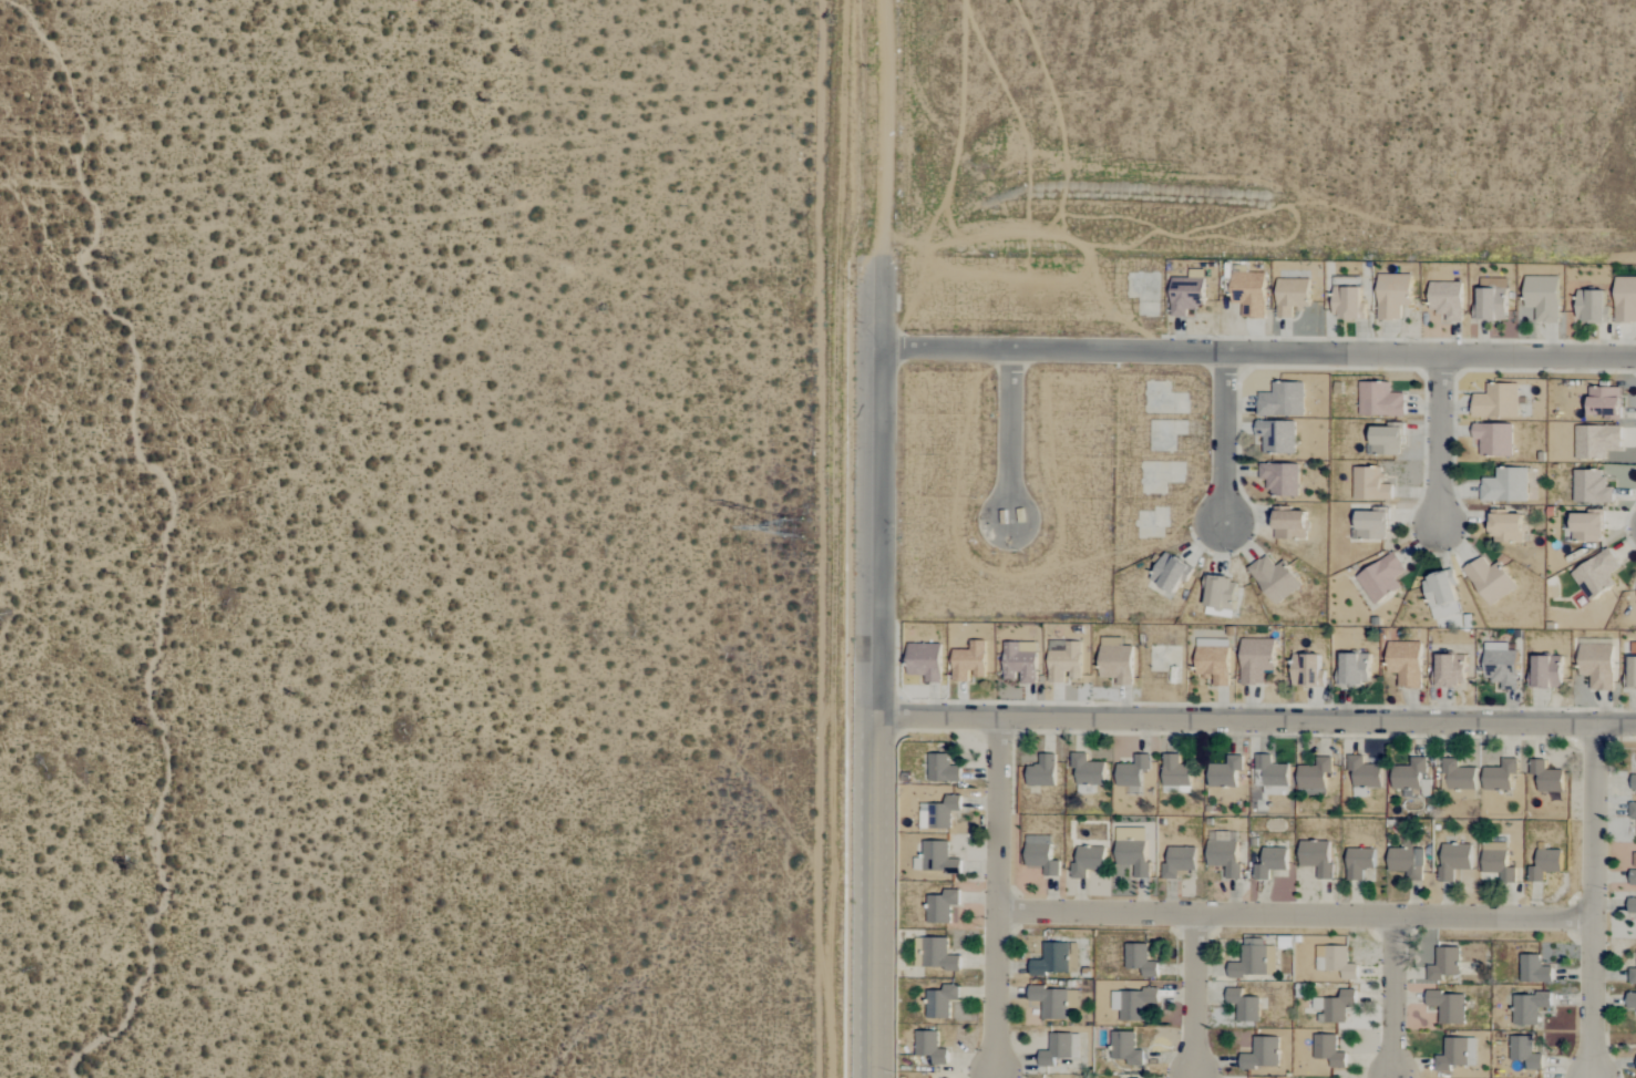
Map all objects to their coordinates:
road: (879, 129)
building: (1248, 291)
building: (1184, 296)
building: (1290, 296)
building: (1392, 296)
building: (1542, 298)
building: (1347, 300)
building: (1445, 300)
building: (1625, 300)
building: (1491, 305)
building: (1591, 307)
road: (1256, 352)
building: (1282, 399)
building: (1379, 399)
building: (1495, 401)
building: (1604, 401)
road: (1011, 434)
building: (1276, 435)
road: (1227, 438)
building: (1493, 438)
road: (1442, 439)
building: (1385, 440)
building: (1596, 440)
building: (1279, 478)
building: (1369, 484)
building: (1505, 485)
building: (1591, 486)
building: (1288, 524)
building: (1371, 524)
power tower: (792, 526)
building: (1505, 526)
building: (1586, 527)
building: (1170, 572)
building: (1596, 574)
building: (1380, 577)
building: (1274, 578)
building: (1489, 579)
building: (1218, 592)
building: (1441, 594)
building: (1255, 659)
building: (968, 660)
building: (924, 661)
building: (1115, 663)
building: (1405, 663)
building: (1213, 664)
building: (1500, 665)
building: (1596, 665)
road: (876, 667)
building: (1352, 668)
building: (1449, 669)
building: (1306, 670)
building: (1545, 670)
building: (1630, 671)
road: (1256, 721)
building: (1132, 770)
building: (1090, 771)
building: (1224, 772)
building: (1273, 773)
building: (1364, 773)
building: (1458, 774)
building: (1314, 776)
building: (1409, 776)
building: (1499, 776)
building: (1545, 777)
building: (1634, 782)
building: (1632, 810)
building: (1223, 852)
building: (1132, 855)
building: (1316, 856)
building: (1090, 860)
building: (1453, 860)
building: (1177, 861)
building: (1496, 861)
building: (1269, 862)
building: (1358, 862)
building: (1406, 862)
building: (1544, 864)
building: (1633, 876)
road: (999, 896)
road: (1597, 901)
building: (1632, 906)
road: (1298, 913)
building: (939, 954)
building: (1140, 958)
building: (1335, 961)
building: (1254, 962)
building: (1443, 964)
building: (1533, 968)
building: (1632, 975)
road: (1196, 993)
road: (1397, 994)
building: (1630, 1000)
building: (1135, 1004)
building: (1334, 1006)
building: (1448, 1006)
building: (1243, 1007)
building: (1529, 1007)
building: (937, 1010)
building: (1124, 1048)
building: (1328, 1050)
building: (1524, 1051)
building: (1261, 1054)
building: (1454, 1054)

